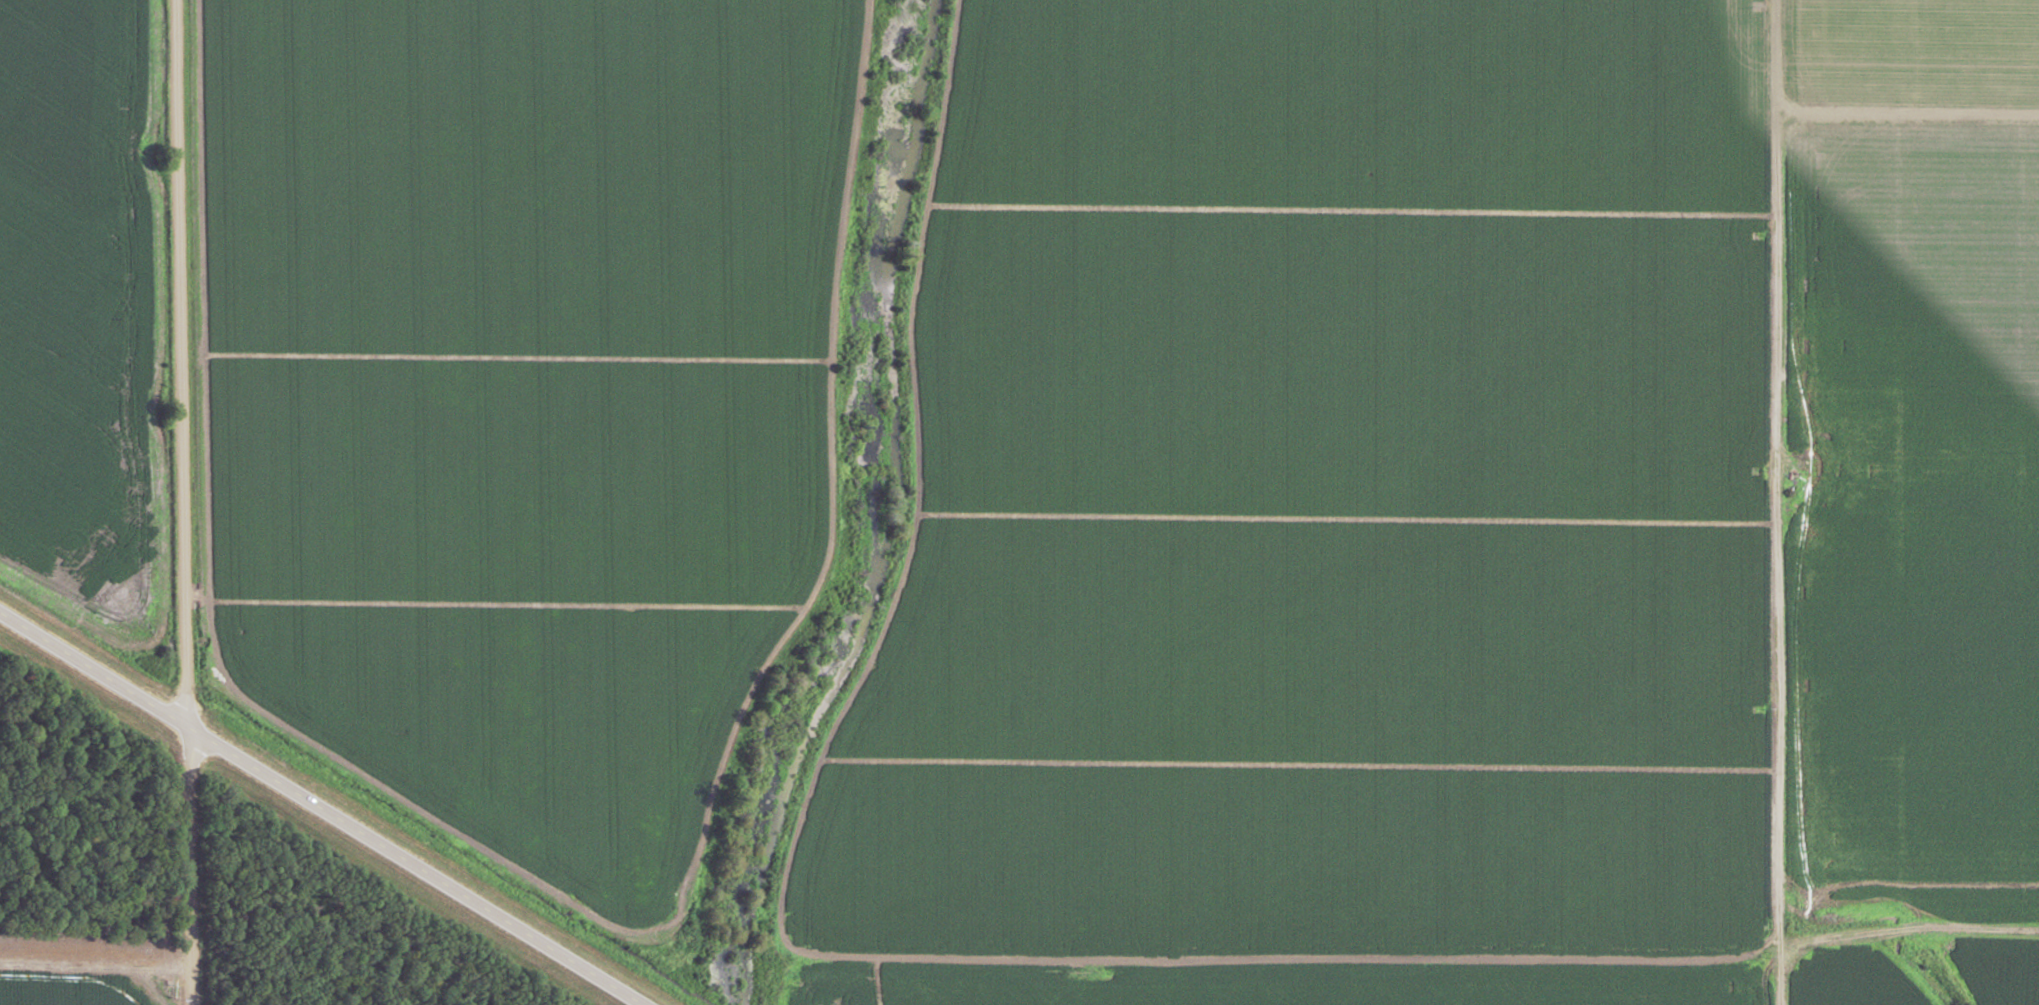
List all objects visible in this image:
road: (173, 502)
road: (318, 810)

